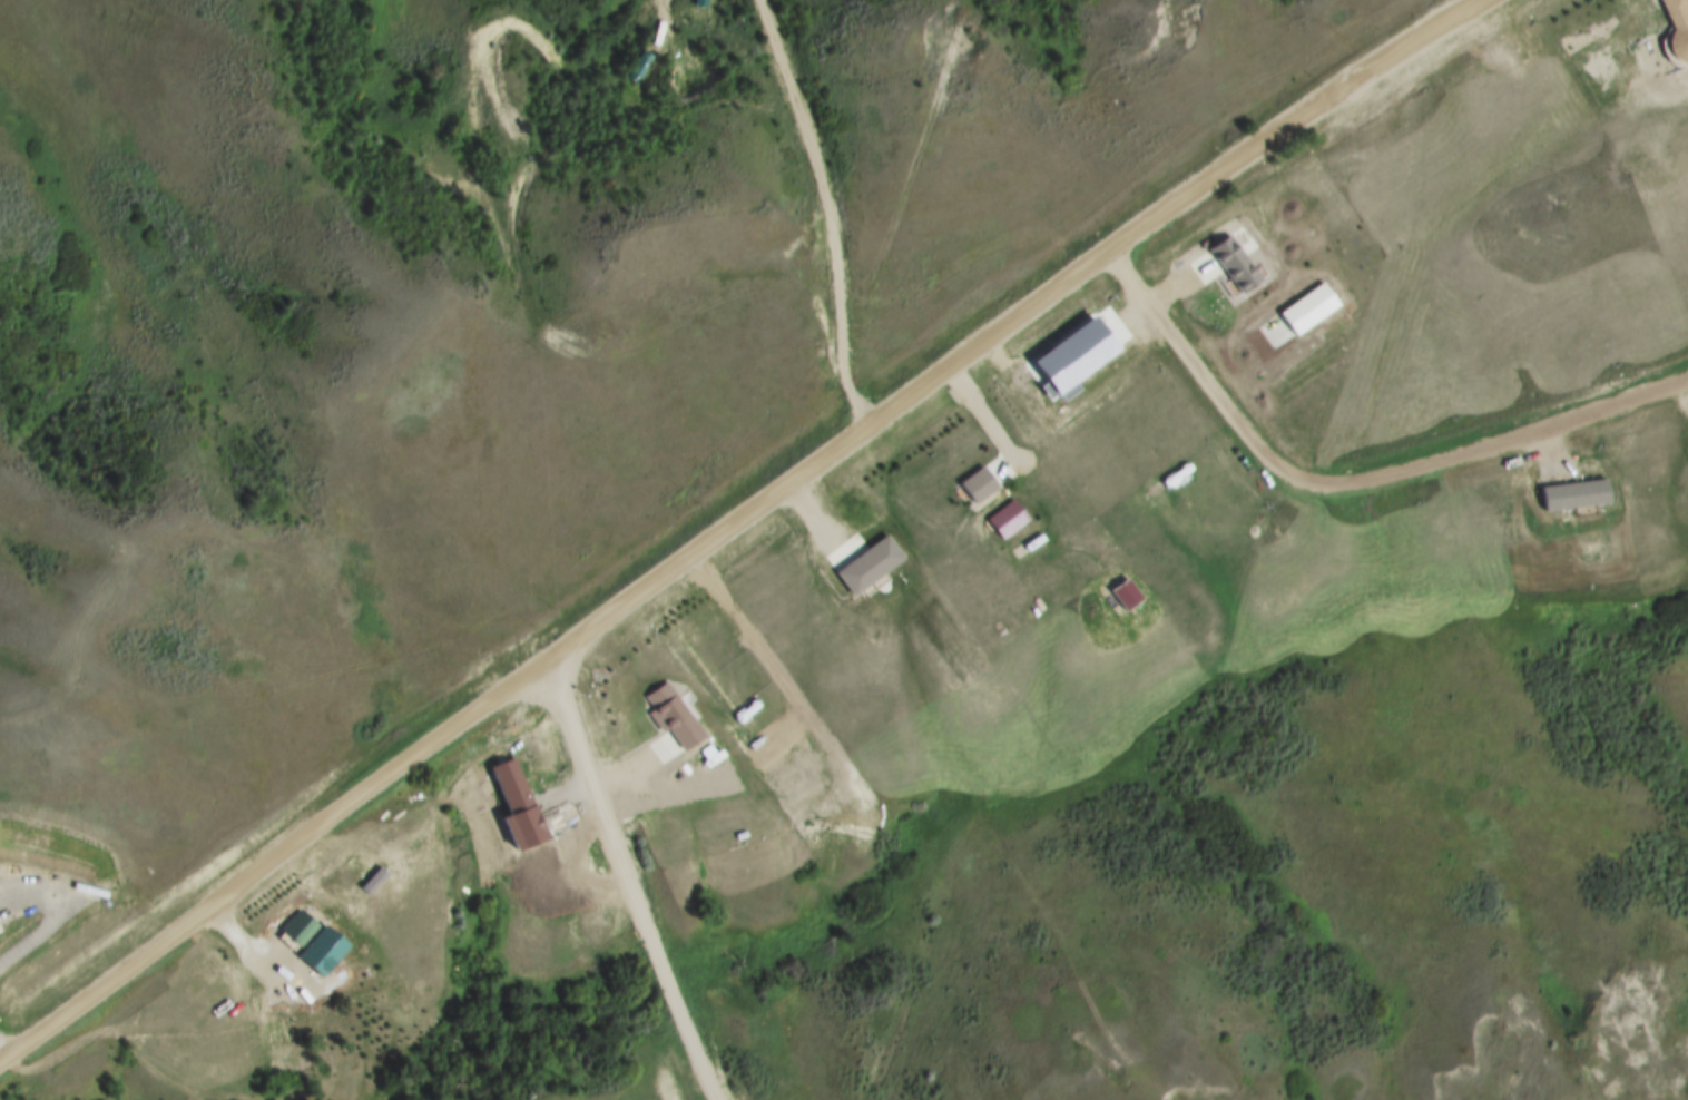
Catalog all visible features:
building: (691, 2)
building: (1681, 26)
building: (628, 63)
road: (826, 209)
building: (1238, 265)
road: (1681, 399)
road: (1599, 461)
road: (1350, 481)
building: (983, 485)
building: (1571, 493)
building: (1010, 520)
road: (737, 521)
building: (873, 567)
building: (642, 655)
building: (677, 718)
building: (517, 788)
road: (632, 877)
road: (51, 921)
building: (302, 927)
building: (325, 951)
quarry: (1629, 1035)
road: (6, 1055)

